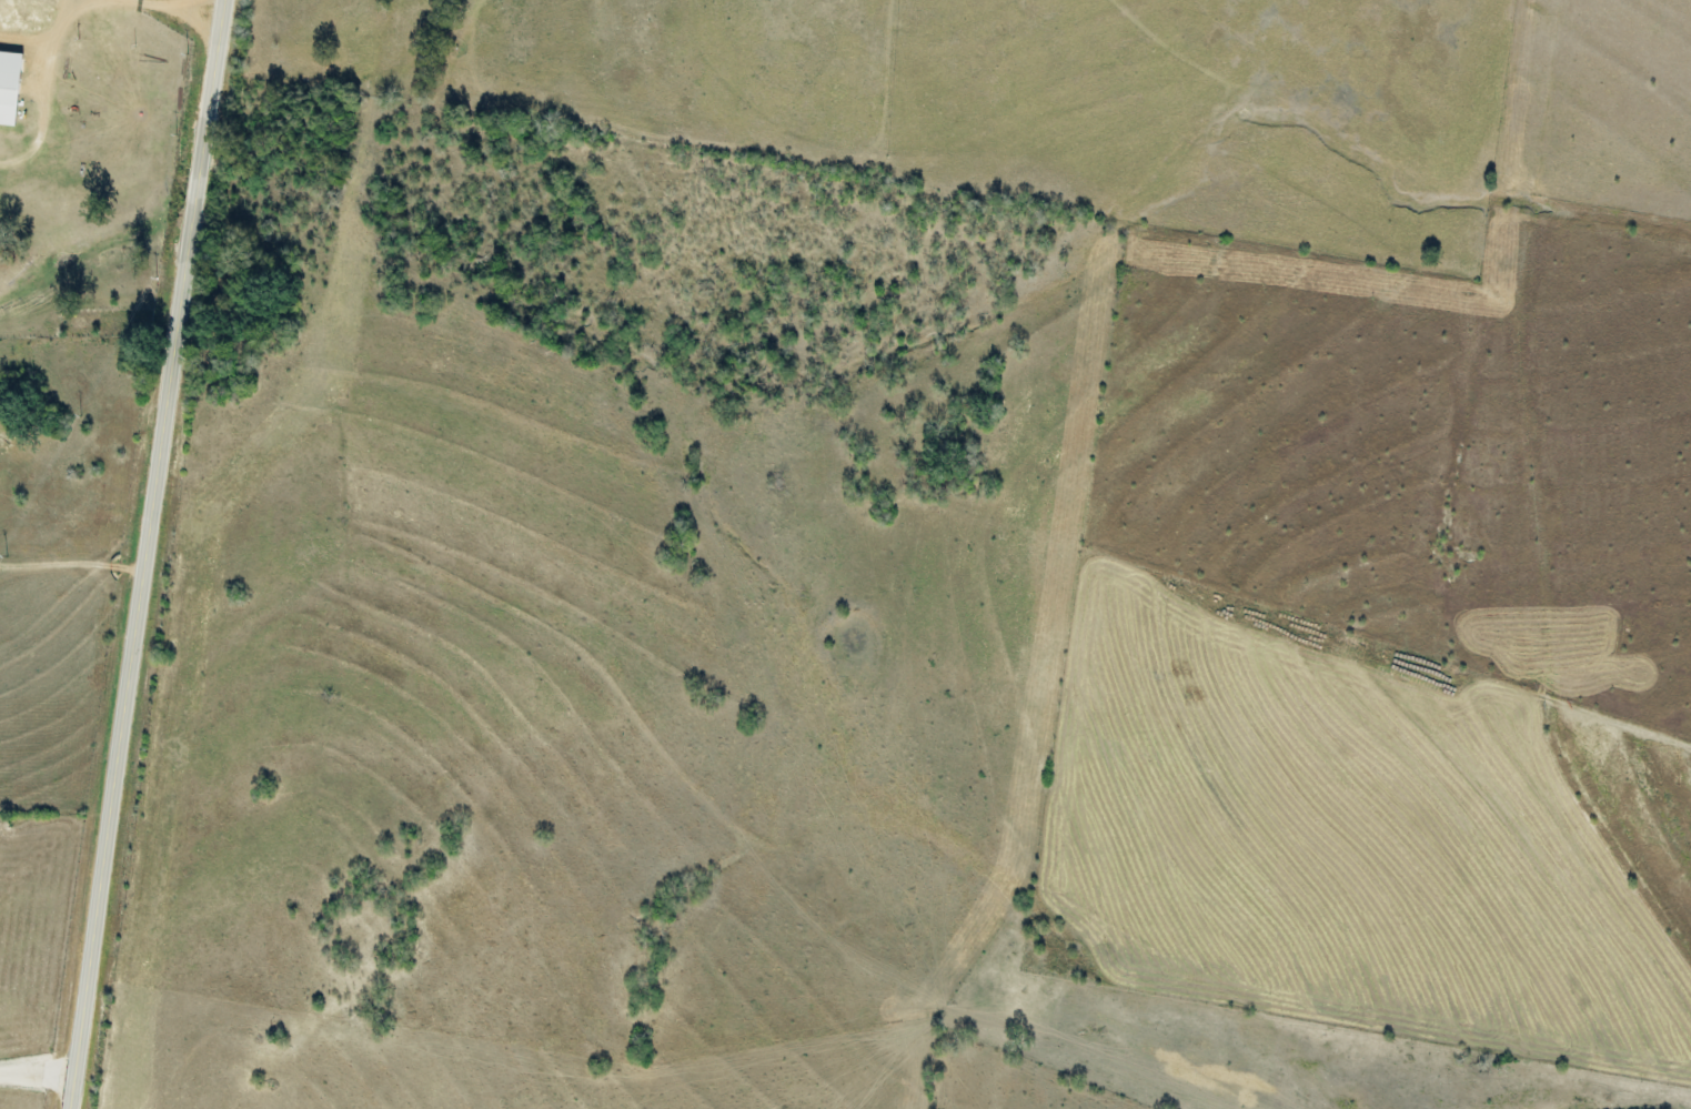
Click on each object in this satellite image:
building: (10, 87)
road: (143, 554)
road: (38, 1067)

